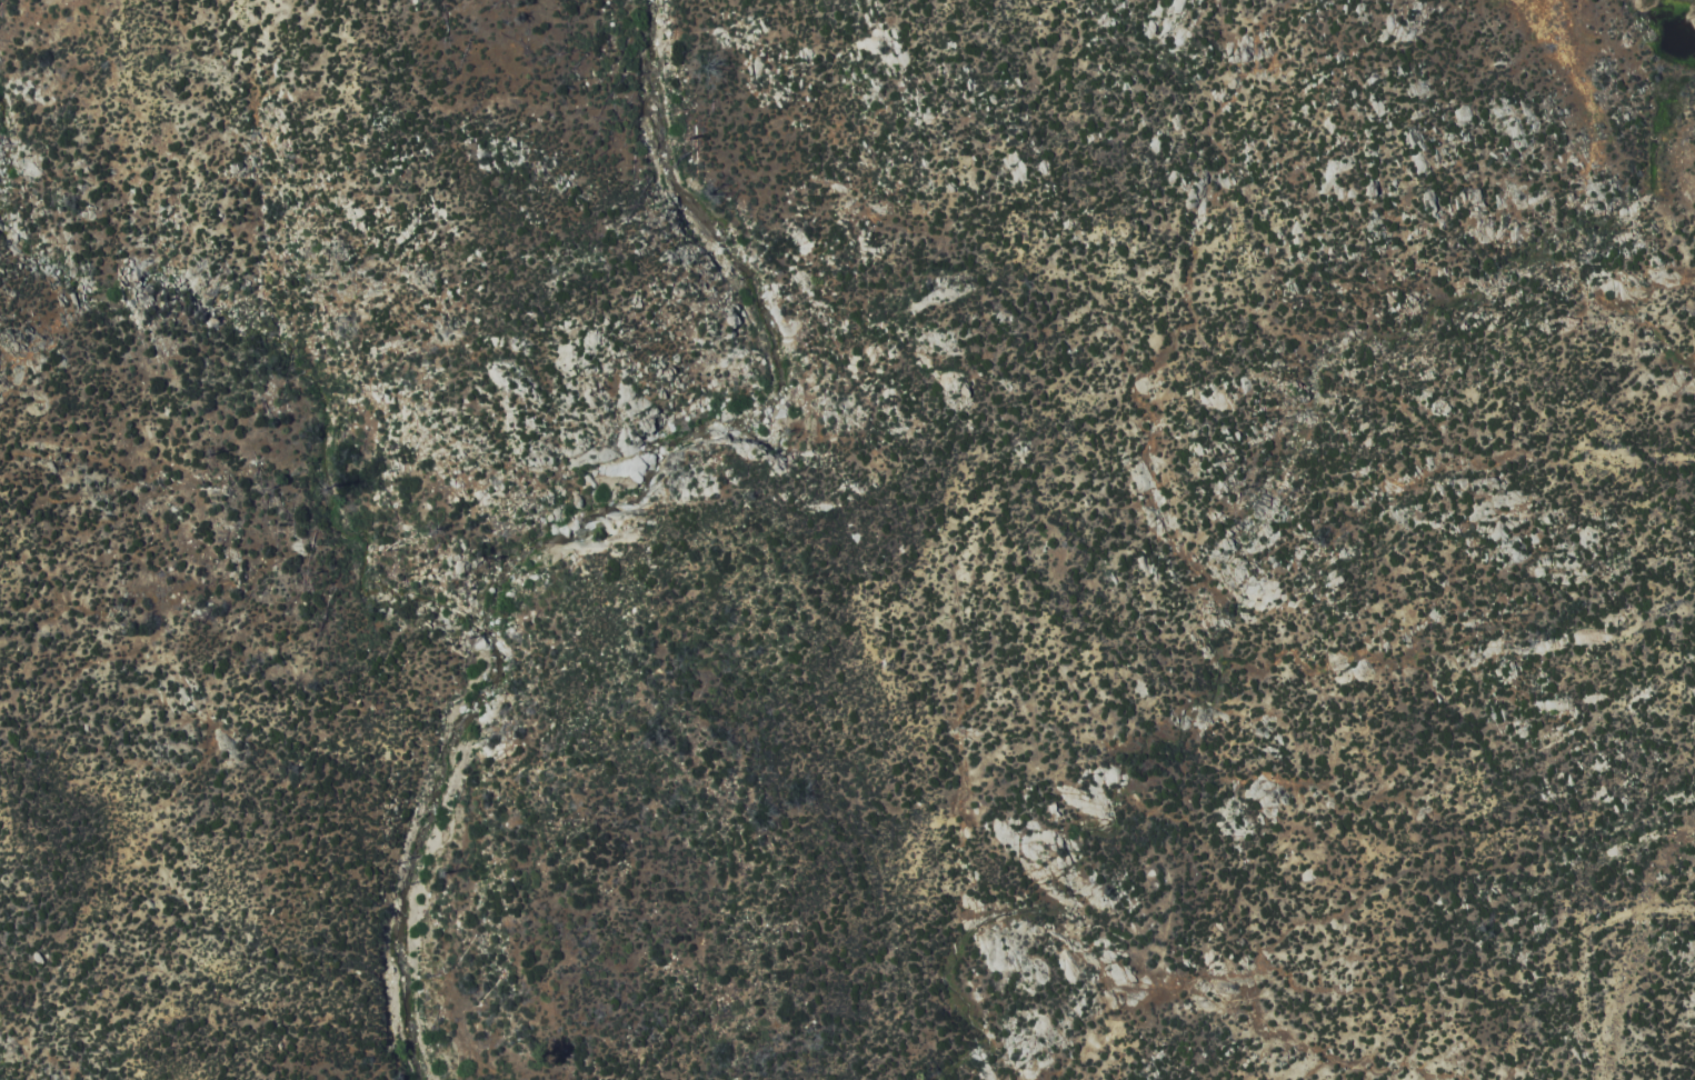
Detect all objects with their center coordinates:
road: (1233, 723)

